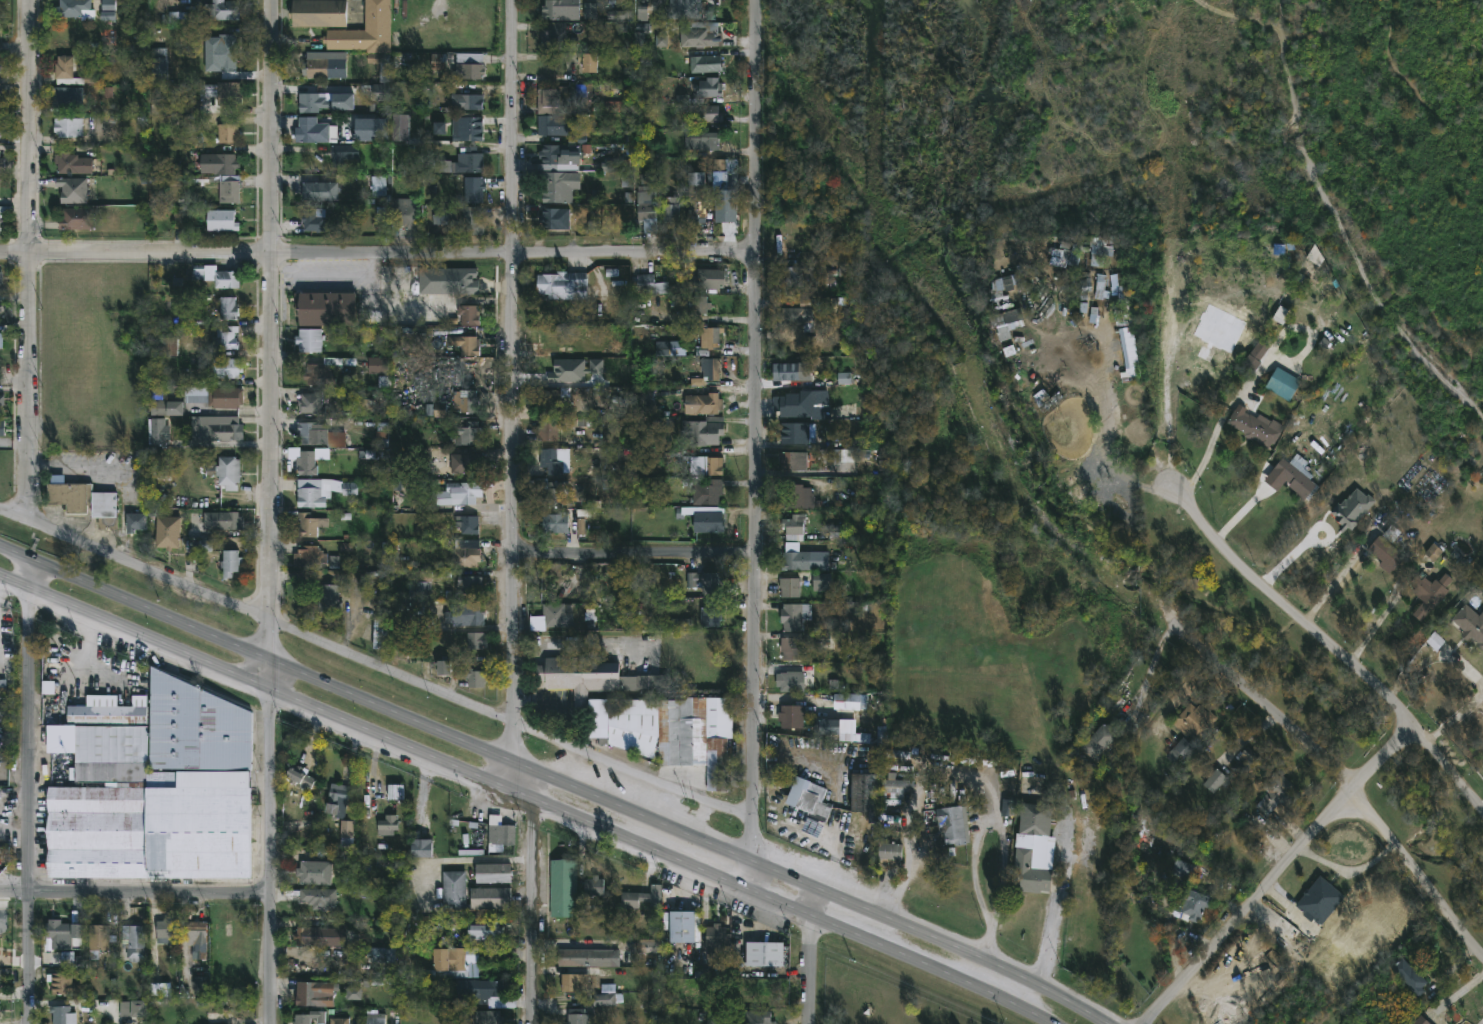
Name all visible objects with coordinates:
building: (687, 8)
building: (75, 9)
building: (561, 9)
building: (108, 10)
building: (210, 12)
building: (319, 12)
building: (366, 30)
building: (702, 35)
building: (557, 36)
building: (221, 52)
building: (589, 61)
building: (707, 63)
building: (459, 64)
building: (0, 67)
building: (158, 68)
building: (317, 68)
building: (70, 72)
building: (709, 87)
building: (0, 90)
building: (223, 92)
building: (67, 96)
building: (582, 98)
building: (554, 99)
building: (312, 100)
building: (467, 101)
building: (611, 105)
building: (192, 113)
building: (708, 113)
building: (69, 127)
building: (562, 127)
building: (2, 128)
building: (316, 129)
building: (372, 129)
building: (471, 130)
building: (228, 132)
building: (700, 140)
building: (343, 153)
building: (469, 161)
building: (1, 162)
building: (73, 163)
building: (219, 163)
building: (438, 165)
building: (555, 174)
building: (73, 188)
building: (230, 188)
building: (381, 188)
building: (474, 189)
building: (320, 190)
building: (697, 199)
building: (727, 205)
building: (670, 208)
building: (649, 212)
building: (405, 214)
building: (446, 215)
building: (77, 218)
building: (555, 219)
building: (221, 220)
building: (1, 221)
building: (311, 221)
building: (473, 222)
railway: (1336, 230)
road: (378, 255)
building: (1074, 255)
building: (1098, 258)
road: (30, 259)
road: (513, 274)
road: (757, 275)
building: (218, 276)
building: (794, 276)
building: (1, 277)
building: (708, 279)
building: (466, 282)
building: (562, 284)
building: (651, 285)
building: (1100, 287)
building: (1121, 297)
building: (0, 306)
building: (228, 308)
building: (328, 308)
building: (695, 308)
building: (469, 314)
building: (799, 314)
road: (272, 330)
building: (226, 338)
building: (710, 338)
building: (1, 340)
building: (309, 340)
building: (466, 344)
building: (168, 345)
building: (670, 350)
building: (1131, 354)
building: (1256, 355)
building: (378, 365)
building: (227, 367)
building: (326, 370)
building: (557, 370)
building: (708, 371)
building: (794, 372)
building: (844, 380)
building: (6, 388)
building: (226, 397)
building: (1, 398)
building: (465, 401)
building: (550, 401)
building: (650, 402)
building: (312, 403)
building: (798, 404)
building: (695, 405)
building: (167, 407)
building: (1257, 427)
building: (216, 428)
building: (0, 430)
building: (158, 431)
road: (1108, 431)
building: (548, 432)
building: (703, 432)
building: (310, 433)
building: (795, 433)
building: (469, 434)
road: (1208, 452)
building: (553, 460)
building: (798, 460)
building: (698, 461)
building: (403, 463)
building: (308, 464)
building: (467, 464)
building: (227, 471)
building: (1297, 477)
building: (322, 491)
building: (553, 491)
building: (706, 491)
building: (466, 492)
building: (796, 497)
building: (85, 502)
building: (215, 520)
building: (422, 521)
building: (564, 521)
building: (136, 522)
building: (709, 522)
building: (468, 524)
building: (309, 525)
building: (794, 527)
building: (168, 532)
road: (635, 551)
building: (1387, 554)
building: (310, 556)
building: (466, 557)
building: (792, 557)
building: (230, 563)
building: (822, 581)
building: (706, 582)
building: (422, 583)
building: (469, 585)
building: (791, 587)
building: (1431, 592)
building: (330, 599)
road: (135, 604)
building: (466, 614)
building: (712, 614)
building: (557, 616)
building: (795, 616)
building: (403, 619)
road: (1376, 623)
building: (1472, 623)
road: (134, 632)
building: (381, 634)
building: (477, 641)
road: (1327, 645)
building: (793, 649)
road: (584, 650)
road: (513, 656)
road: (375, 664)
building: (443, 668)
road: (1150, 672)
road: (270, 673)
building: (475, 675)
building: (596, 678)
building: (793, 679)
road: (754, 707)
road: (1267, 707)
building: (792, 717)
building: (603, 723)
building: (1196, 723)
building: (196, 726)
building: (830, 728)
building: (697, 735)
building: (1102, 745)
building: (1182, 750)
building: (1247, 763)
building: (299, 776)
road: (513, 776)
building: (1215, 782)
road: (32, 792)
building: (395, 793)
building: (1279, 793)
building: (866, 796)
building: (810, 799)
building: (336, 800)
building: (141, 805)
building: (1038, 818)
building: (890, 821)
building: (387, 824)
building: (955, 825)
building: (500, 831)
building: (347, 833)
road: (691, 836)
building: (422, 847)
building: (892, 851)
road: (656, 852)
road: (272, 855)
road: (1004, 857)
building: (1185, 869)
building: (1031, 870)
building: (314, 872)
building: (493, 872)
road: (1278, 873)
building: (563, 887)
building: (595, 887)
building: (471, 893)
road: (136, 896)
building: (318, 897)
building: (642, 897)
road: (536, 898)
building: (1320, 900)
building: (1195, 903)
building: (683, 925)
building: (165, 930)
building: (196, 931)
building: (483, 931)
building: (64, 932)
building: (306, 935)
building: (718, 938)
building: (99, 939)
building: (134, 941)
road: (1048, 941)
building: (765, 953)
building: (381, 956)
building: (588, 957)
road: (813, 957)
building: (450, 963)
building: (1412, 976)
building: (0, 977)
building: (574, 982)
building: (65, 984)
building: (314, 994)
building: (493, 994)
road: (1455, 998)
building: (606, 999)
building: (134, 1008)
building: (61, 1015)
building: (579, 1016)
building: (309, 1017)
building: (488, 1017)
building: (757, 1017)
building: (376, 1018)
building: (340, 1021)

